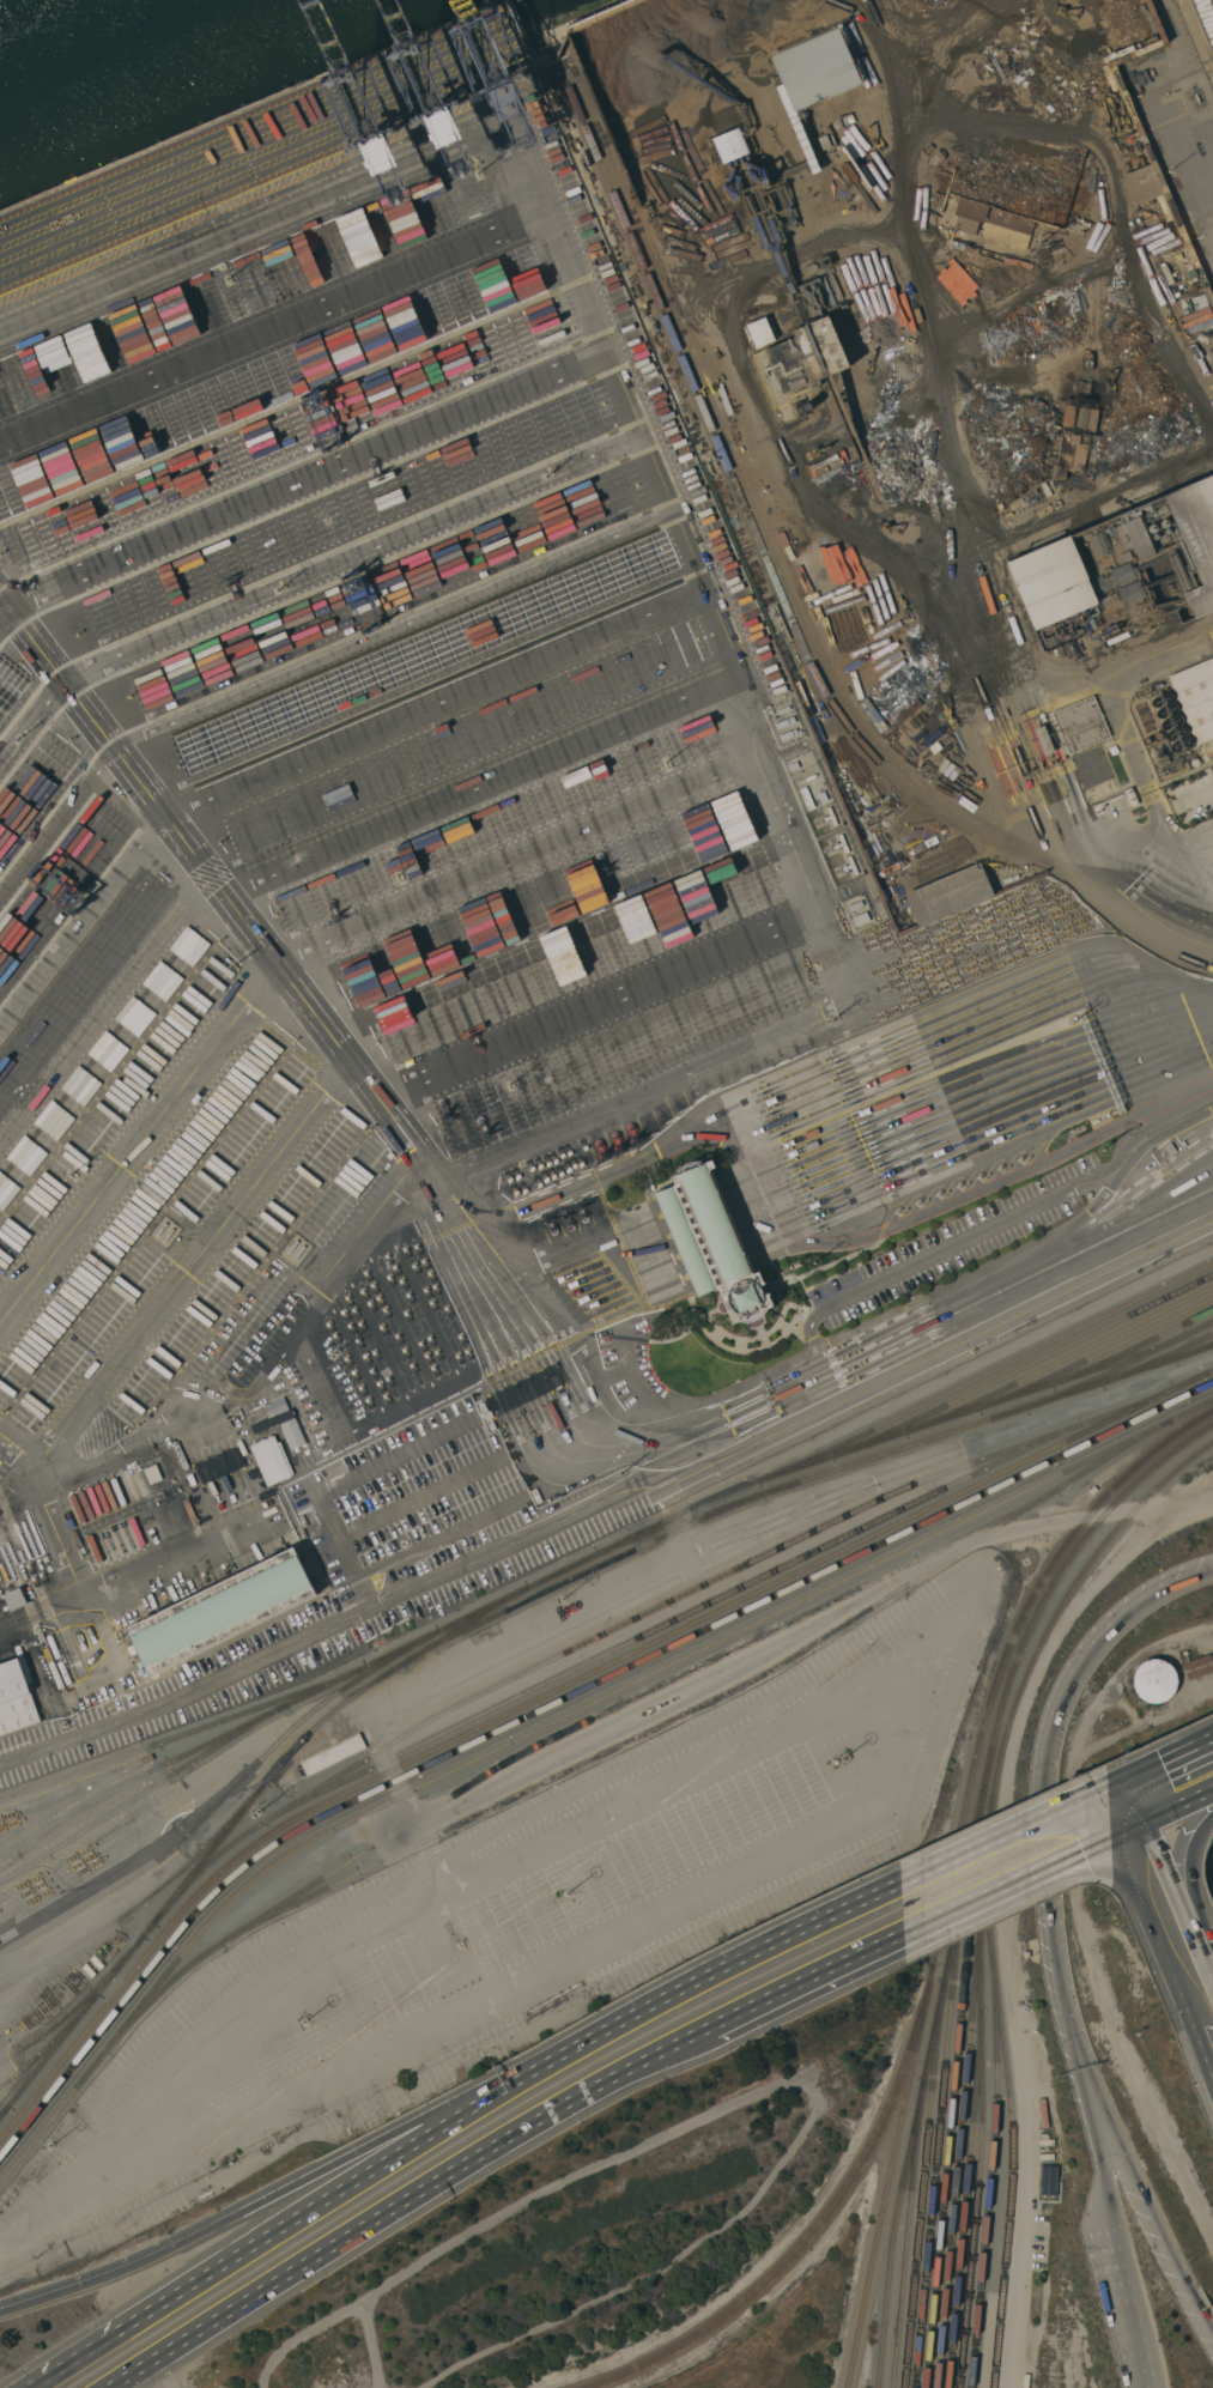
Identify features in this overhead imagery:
building: (815, 69)
building: (730, 145)
building: (1144, 183)
building: (969, 214)
building: (1007, 229)
building: (760, 333)
building: (808, 340)
building: (1081, 402)
building: (1071, 454)
building: (1015, 503)
railway: (751, 504)
railway: (756, 504)
building: (1120, 569)
railway: (784, 600)
road: (1156, 641)
building: (1196, 698)
building: (1081, 725)
building: (1157, 737)
building: (1043, 740)
road: (1151, 783)
building: (1130, 796)
building: (948, 893)
road: (263, 948)
road: (966, 1109)
building: (1170, 1148)
road: (699, 1222)
building: (712, 1244)
road: (604, 1263)
railway: (1133, 1350)
road: (862, 1351)
railway: (1194, 1351)
railway: (1096, 1357)
railway: (1157, 1362)
railway: (1060, 1363)
railway: (1121, 1368)
railway: (1023, 1369)
railway: (985, 1375)
building: (284, 1429)
railway: (904, 1448)
building: (180, 1455)
building: (272, 1460)
building: (152, 1474)
building: (190, 1479)
road: (338, 1483)
road: (607, 1493)
road: (420, 1497)
building: (190, 1513)
road: (438, 1535)
railway: (578, 1564)
railway: (581, 1577)
building: (14, 1598)
building: (220, 1611)
railway: (641, 1617)
railway: (672, 1623)
building: (53, 1647)
building: (1197, 1667)
building: (63, 1673)
building: (1153, 1680)
railway: (554, 1691)
building: (16, 1695)
railway: (706, 1703)
railway: (553, 1704)
railway: (552, 1723)
railway: (183, 1734)
railway: (559, 1737)
building: (332, 1754)
road: (1170, 1756)
railway: (577, 1768)
traffic signals: (1127, 1776)
road: (1111, 1782)
road: (1086, 1794)
railway: (142, 1795)
road: (1135, 1799)
railway: (223, 1800)
road: (1048, 1806)
road: (1178, 1807)
road: (1106, 1813)
railway: (235, 1822)
traffic signals: (1144, 1823)
road: (1130, 1830)
traffic signals: (1117, 1837)
road: (990, 1840)
road: (1104, 1843)
railway: (954, 1861)
railway: (969, 1869)
railway: (984, 1880)
road: (1190, 1891)
road: (999, 1895)
road: (1171, 1895)
railway: (145, 1902)
building: (1026, 1953)
road: (1164, 1960)
road: (715, 1972)
road: (1206, 1984)
railway: (77, 2006)
railway: (51, 2044)
railway: (956, 2077)
railway: (5, 2113)
railway: (1013, 2115)
railway: (939, 2141)
railway: (983, 2144)
road: (502, 2148)
road: (1103, 2165)
railway: (993, 2169)
building: (1048, 2181)
railway: (923, 2184)
road: (1140, 2196)
railway: (968, 2199)
road: (267, 2201)
railway: (820, 2225)
road: (283, 2230)
railway: (909, 2232)
road: (1124, 2305)
road: (1199, 2309)
road: (157, 2376)

